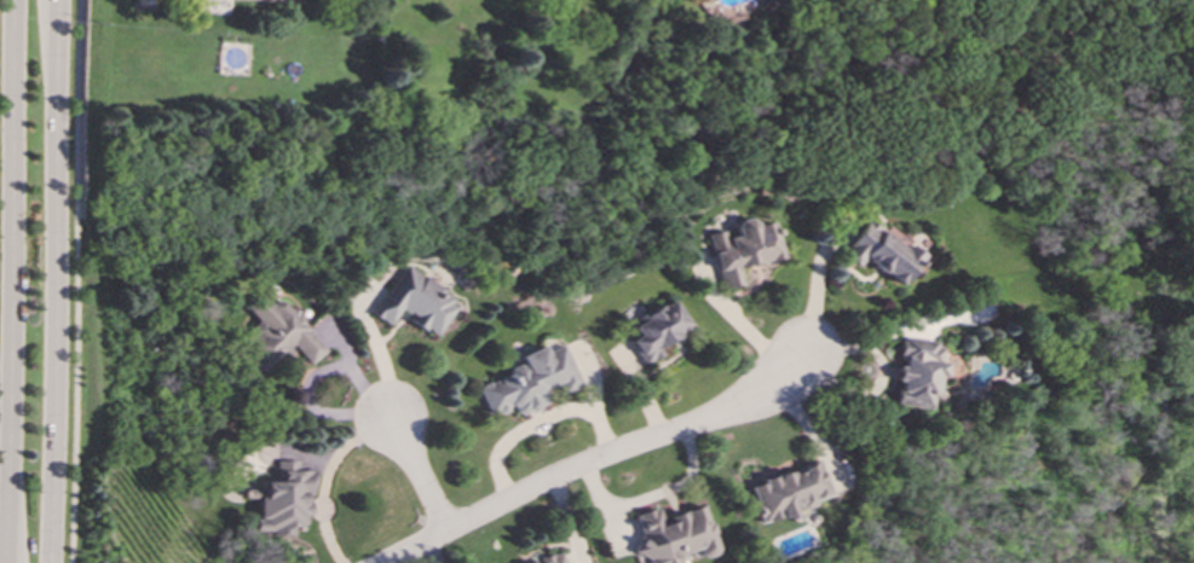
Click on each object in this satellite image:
building: (284, 0)
building: (743, 249)
building: (881, 251)
road: (818, 275)
road: (11, 281)
road: (57, 281)
road: (75, 281)
building: (417, 301)
building: (657, 329)
building: (278, 332)
building: (918, 371)
building: (530, 381)
road: (537, 423)
road: (601, 457)
road: (417, 470)
road: (325, 477)
building: (791, 491)
road: (653, 497)
building: (282, 498)
building: (673, 534)
building: (552, 559)

